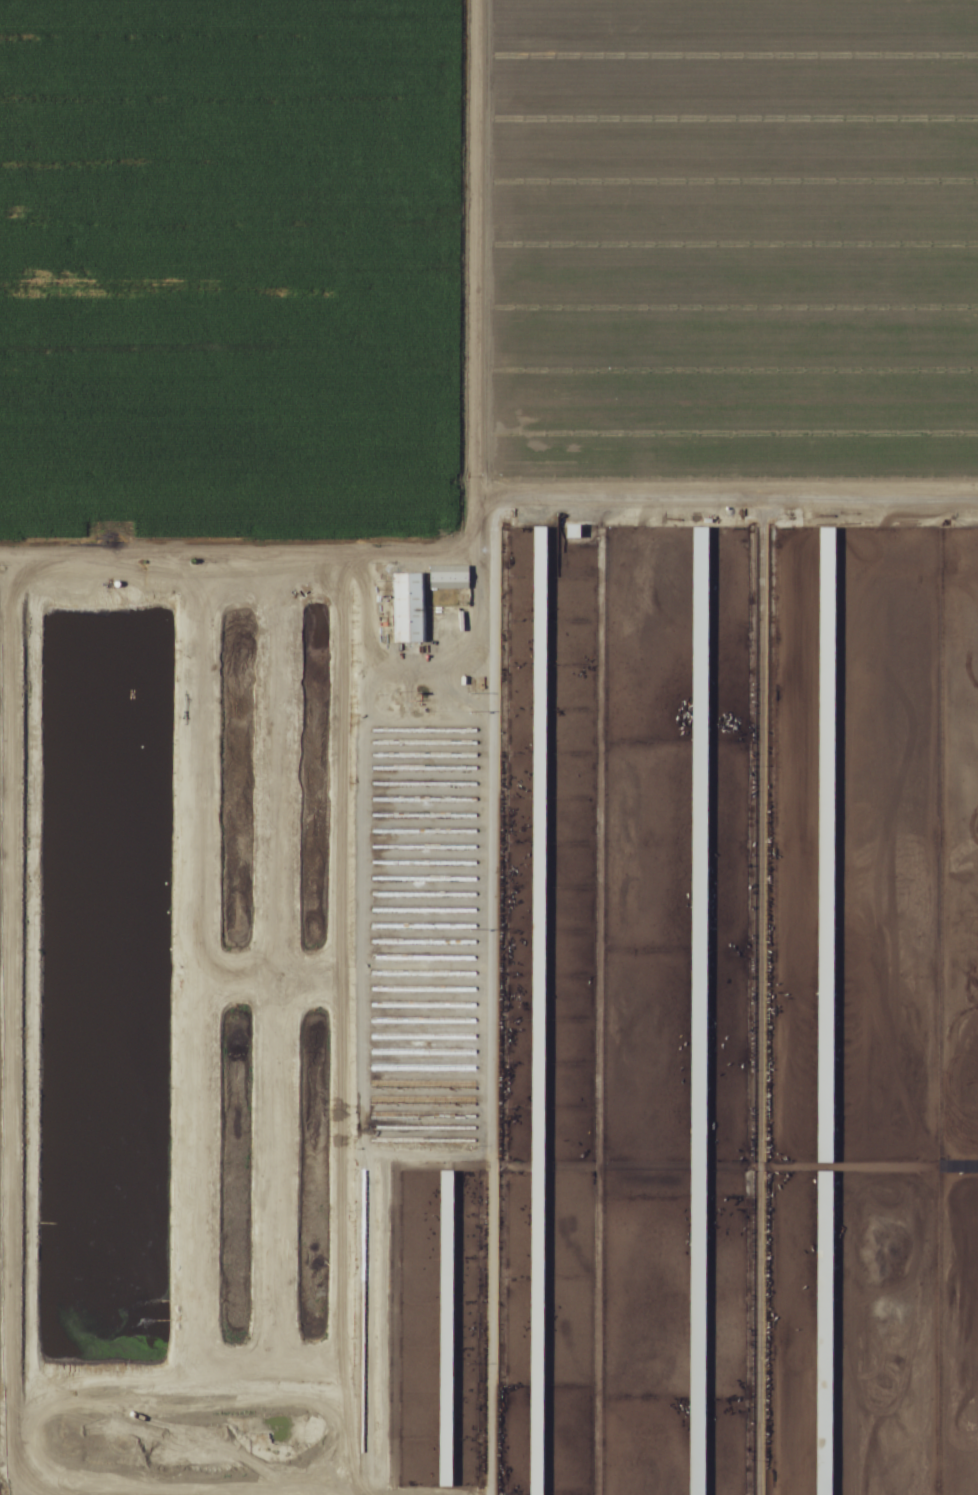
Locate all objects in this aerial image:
building: (406, 609)
building: (538, 787)
building: (825, 846)
building: (824, 1243)
building: (537, 1252)
building: (445, 1330)
building: (823, 1416)

